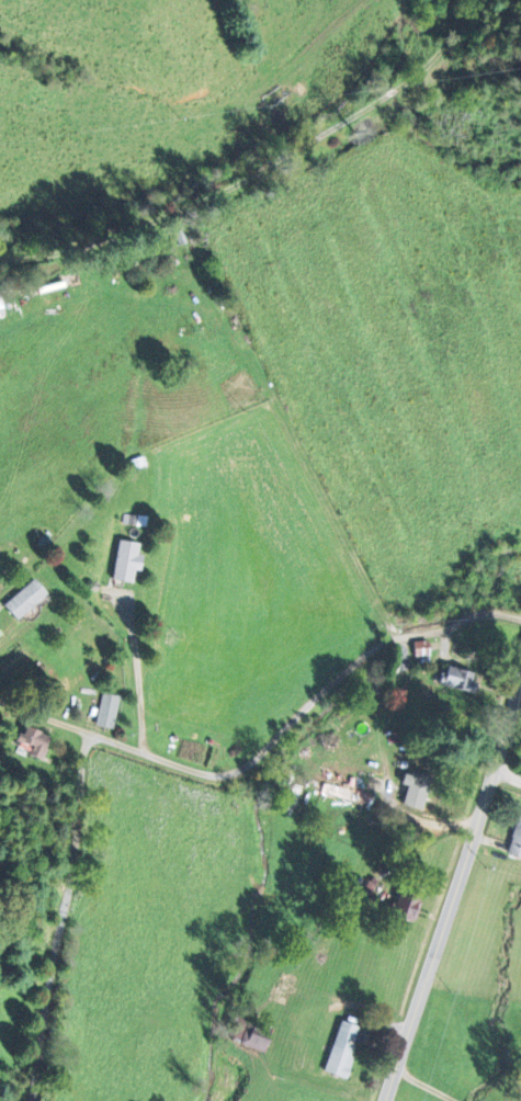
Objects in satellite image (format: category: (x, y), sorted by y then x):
road: (259, 169)
building: (127, 558)
building: (25, 597)
building: (0, 631)
road: (133, 670)
building: (460, 677)
building: (106, 708)
building: (33, 739)
road: (270, 742)
road: (507, 774)
building: (416, 787)
building: (348, 792)
road: (423, 813)
building: (516, 838)
road: (455, 892)
building: (406, 903)
road: (61, 916)
building: (251, 1033)
building: (342, 1047)
road: (424, 1085)

